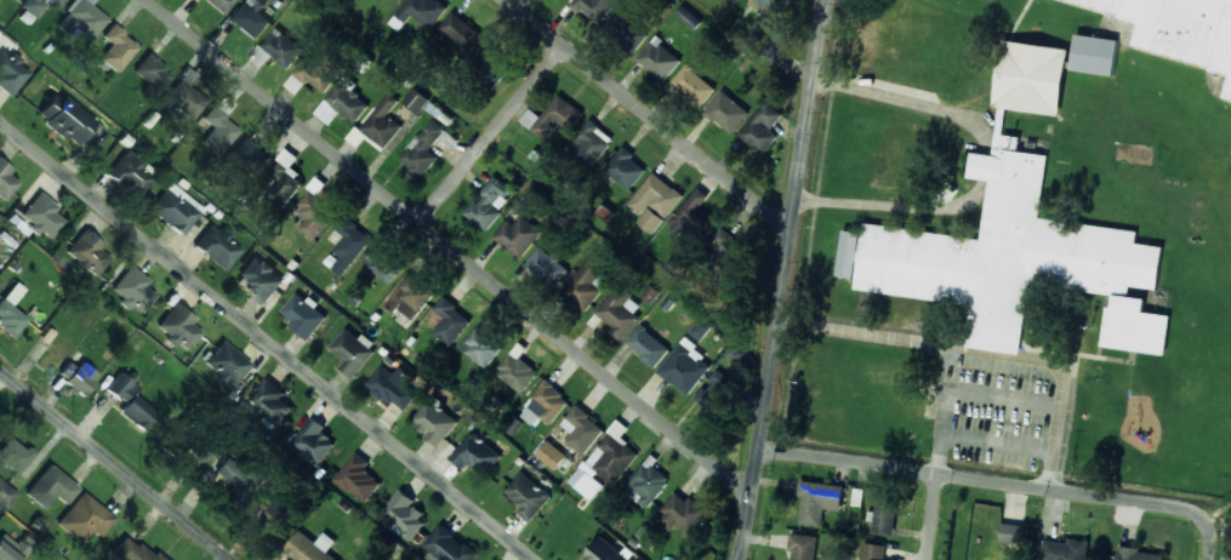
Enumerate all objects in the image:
building: (398, 0)
building: (39, 5)
building: (220, 5)
building: (774, 5)
building: (595, 7)
building: (420, 12)
building: (689, 17)
building: (80, 18)
building: (249, 18)
building: (1181, 29)
building: (460, 30)
building: (627, 30)
building: (281, 47)
building: (116, 48)
building: (1095, 52)
building: (659, 58)
building: (10, 72)
building: (152, 72)
building: (315, 74)
building: (1030, 74)
building: (694, 85)
building: (182, 97)
building: (416, 101)
building: (343, 104)
building: (726, 112)
road: (649, 114)
building: (552, 116)
building: (65, 119)
building: (383, 122)
building: (217, 127)
building: (762, 128)
road: (491, 133)
building: (591, 142)
building: (625, 167)
building: (270, 170)
building: (6, 181)
building: (655, 196)
building: (489, 202)
building: (176, 208)
building: (315, 208)
building: (691, 213)
building: (41, 216)
building: (650, 219)
building: (518, 235)
building: (348, 245)
building: (217, 247)
road: (449, 247)
building: (730, 252)
building: (87, 253)
building: (1014, 261)
building: (383, 262)
building: (547, 265)
building: (260, 278)
road: (782, 280)
building: (585, 284)
building: (133, 290)
building: (411, 297)
building: (11, 310)
building: (620, 310)
building: (303, 315)
building: (450, 320)
building: (178, 327)
building: (701, 327)
road: (272, 335)
building: (648, 345)
building: (481, 347)
building: (353, 350)
building: (226, 365)
building: (685, 366)
building: (78, 375)
building: (515, 375)
building: (716, 384)
building: (119, 385)
building: (394, 387)
building: (269, 401)
building: (545, 404)
building: (137, 412)
building: (434, 422)
building: (581, 429)
building: (314, 441)
building: (475, 453)
building: (13, 455)
building: (551, 455)
road: (115, 464)
building: (605, 464)
road: (967, 475)
building: (359, 478)
building: (236, 481)
building: (645, 484)
building: (52, 486)
building: (6, 495)
building: (528, 496)
building: (817, 501)
building: (682, 513)
building: (404, 514)
road: (931, 515)
building: (884, 516)
building: (85, 519)
road: (1206, 525)
building: (1011, 533)
building: (450, 545)
building: (15, 547)
building: (310, 547)
building: (802, 547)
building: (131, 550)
building: (1065, 550)
building: (605, 552)
building: (872, 552)
building: (1139, 554)

